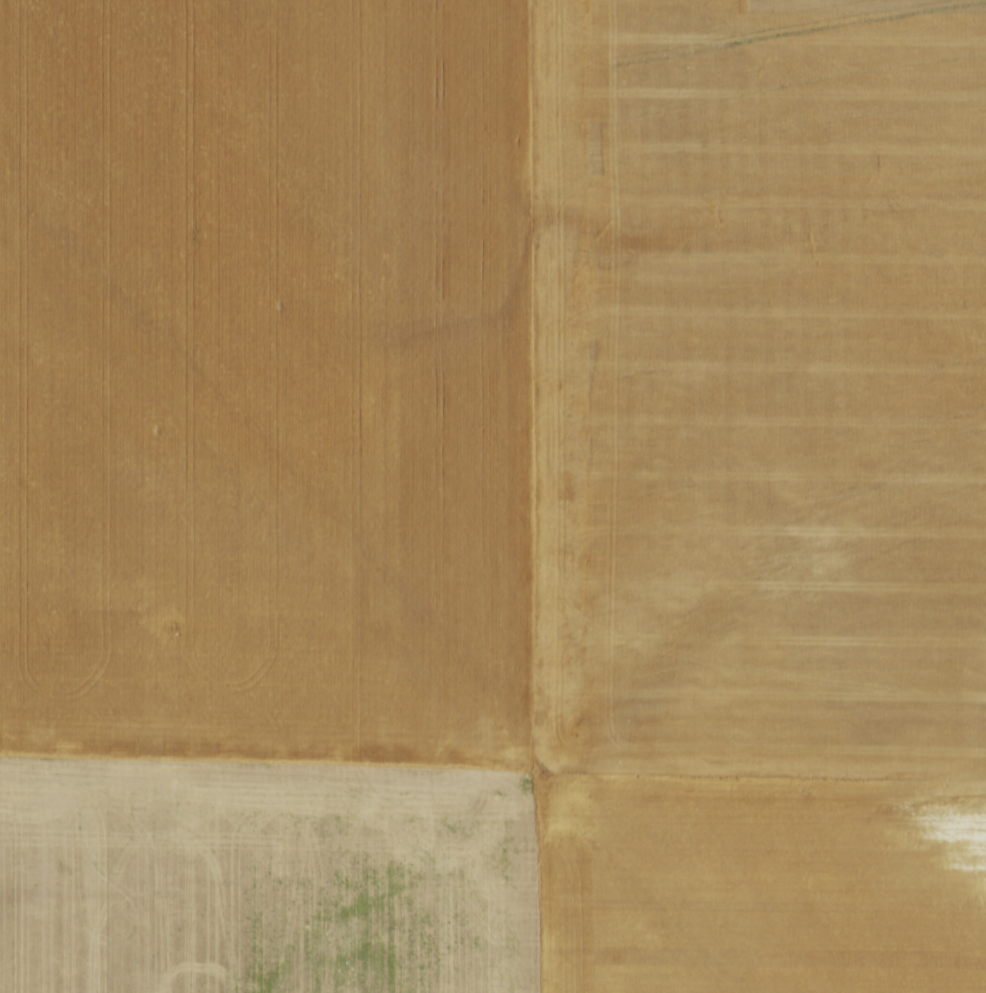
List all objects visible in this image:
crop: (493, 496)

